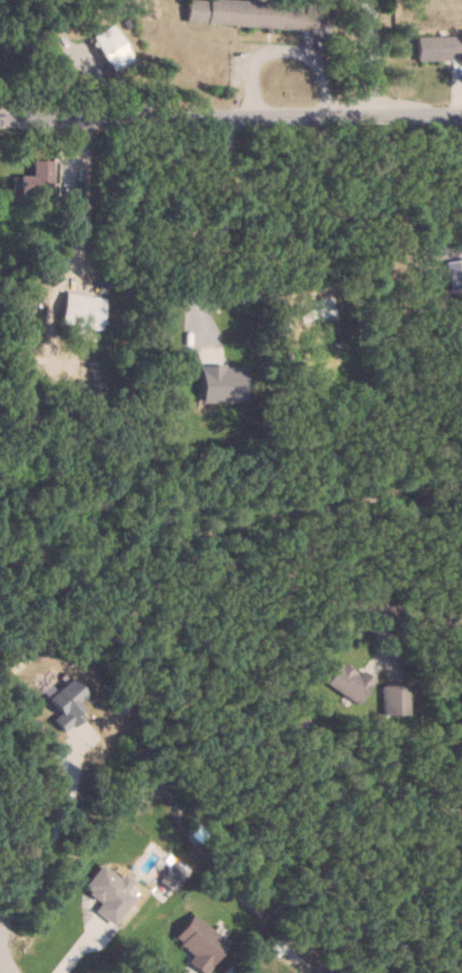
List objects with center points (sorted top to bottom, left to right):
building: (255, 14)
building: (438, 47)
building: (111, 48)
road: (279, 51)
road: (367, 57)
road: (231, 116)
building: (38, 180)
building: (71, 211)
road: (193, 298)
building: (83, 311)
road: (445, 617)
building: (348, 682)
building: (393, 700)
building: (66, 705)
road: (47, 838)
building: (199, 943)
road: (0, 972)

